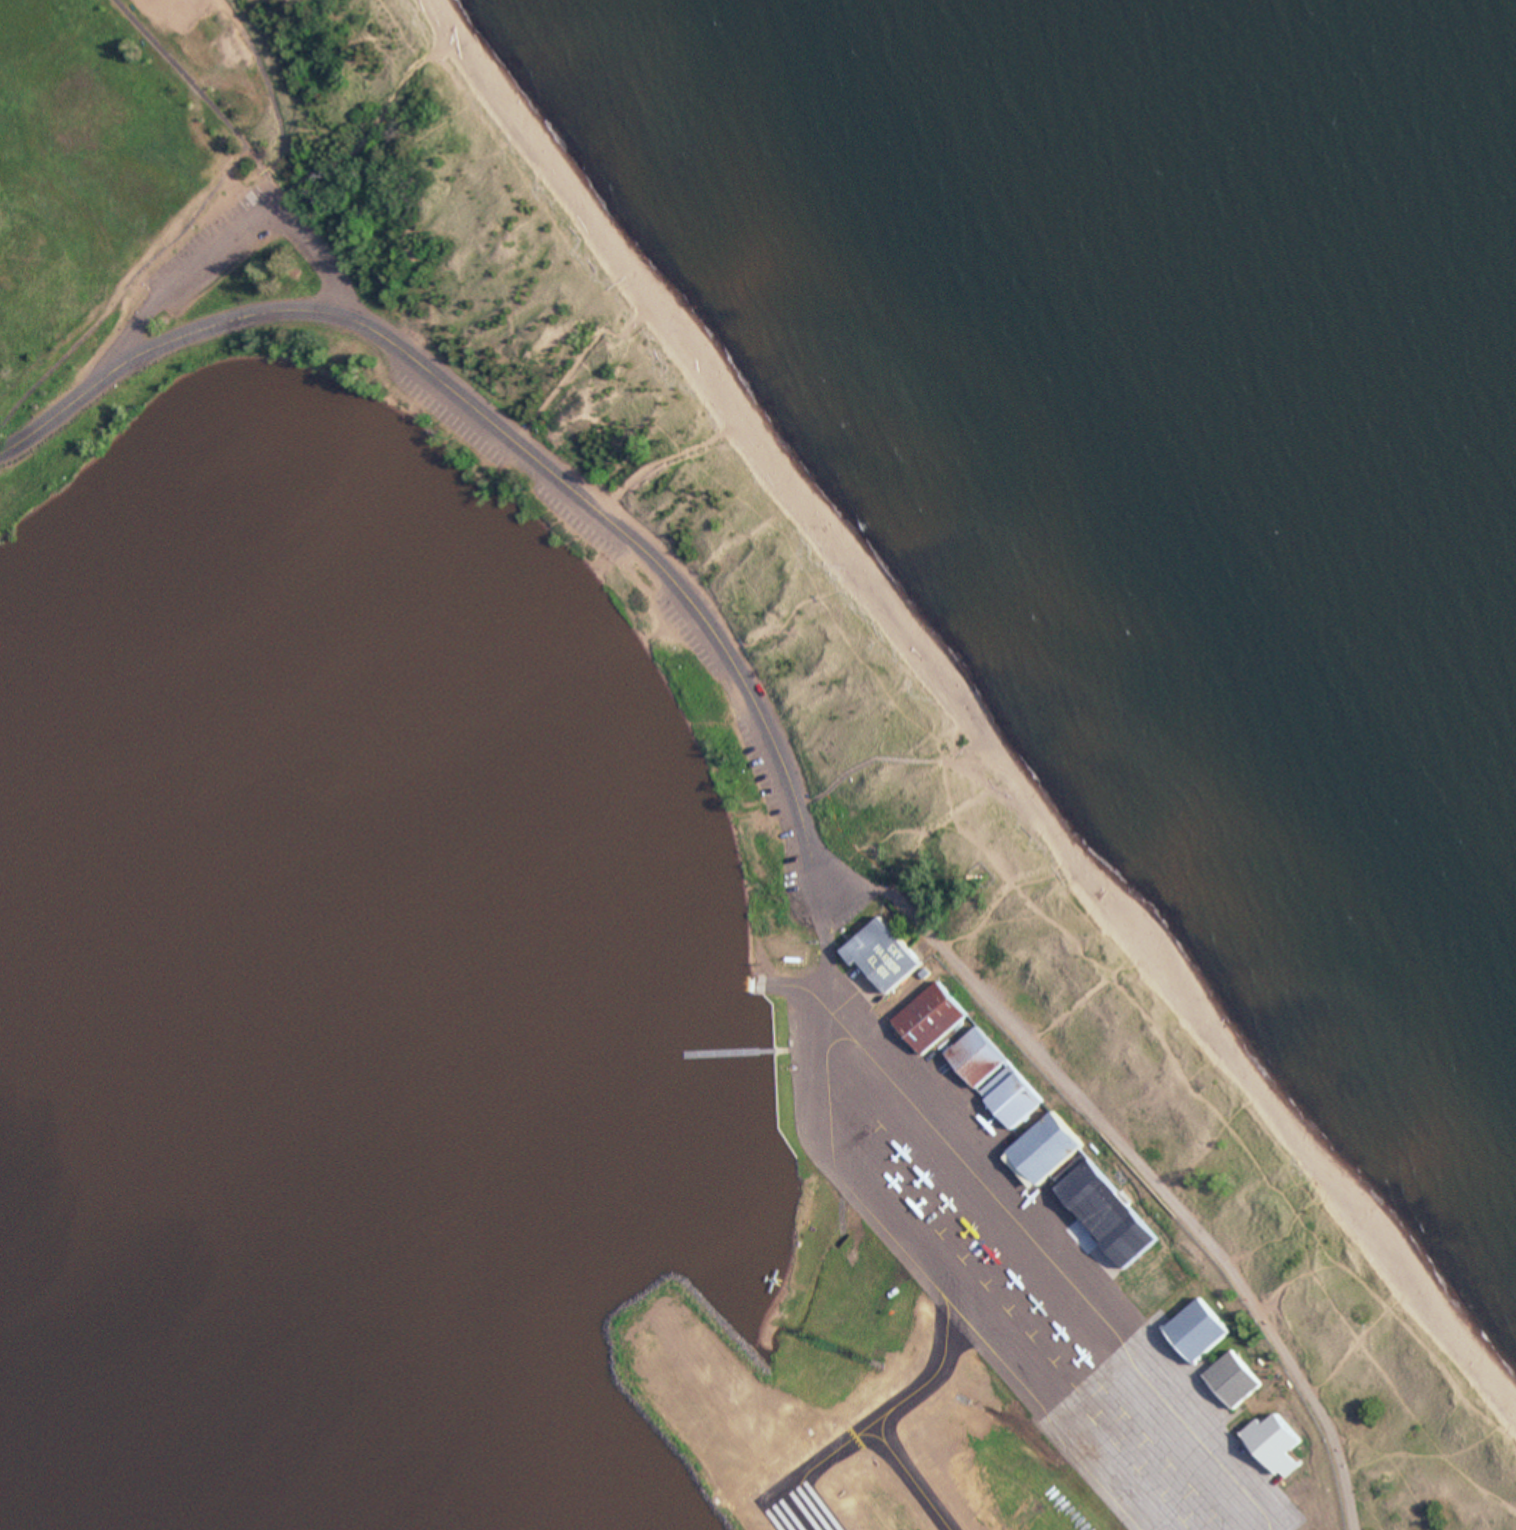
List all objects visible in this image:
road: (230, 236)
parking lot: (193, 245)
road: (502, 435)
road: (889, 754)
road: (803, 800)
lighthouse: (986, 874)
road: (823, 921)
road: (825, 945)
airport hangar: (882, 951)
building: (882, 951)
airport taxiway: (808, 987)
airport hangar: (929, 1013)
building: (929, 1013)
road: (800, 1045)
pier: (728, 1049)
airport hangar: (976, 1053)
building: (976, 1053)
airport hangar: (1010, 1092)
building: (1010, 1092)
airport hangar: (1045, 1144)
building: (1045, 1144)
road: (1133, 1156)
airport hangar: (1083, 1183)
building: (1083, 1183)
airport hangar: (1125, 1233)
building: (1125, 1233)
airport apron: (1015, 1265)
airport taxiway: (926, 1274)
airport taxiway: (1066, 1281)
airport: (959, 1285)
airport hangar: (1196, 1326)
building: (1196, 1326)
airport hangar: (1231, 1375)
building: (1231, 1375)
airport taxiway: (1044, 1416)
airport hangar: (1273, 1439)
building: (1273, 1439)
airport taxiway: (910, 1476)
airport runway: (796, 1506)

